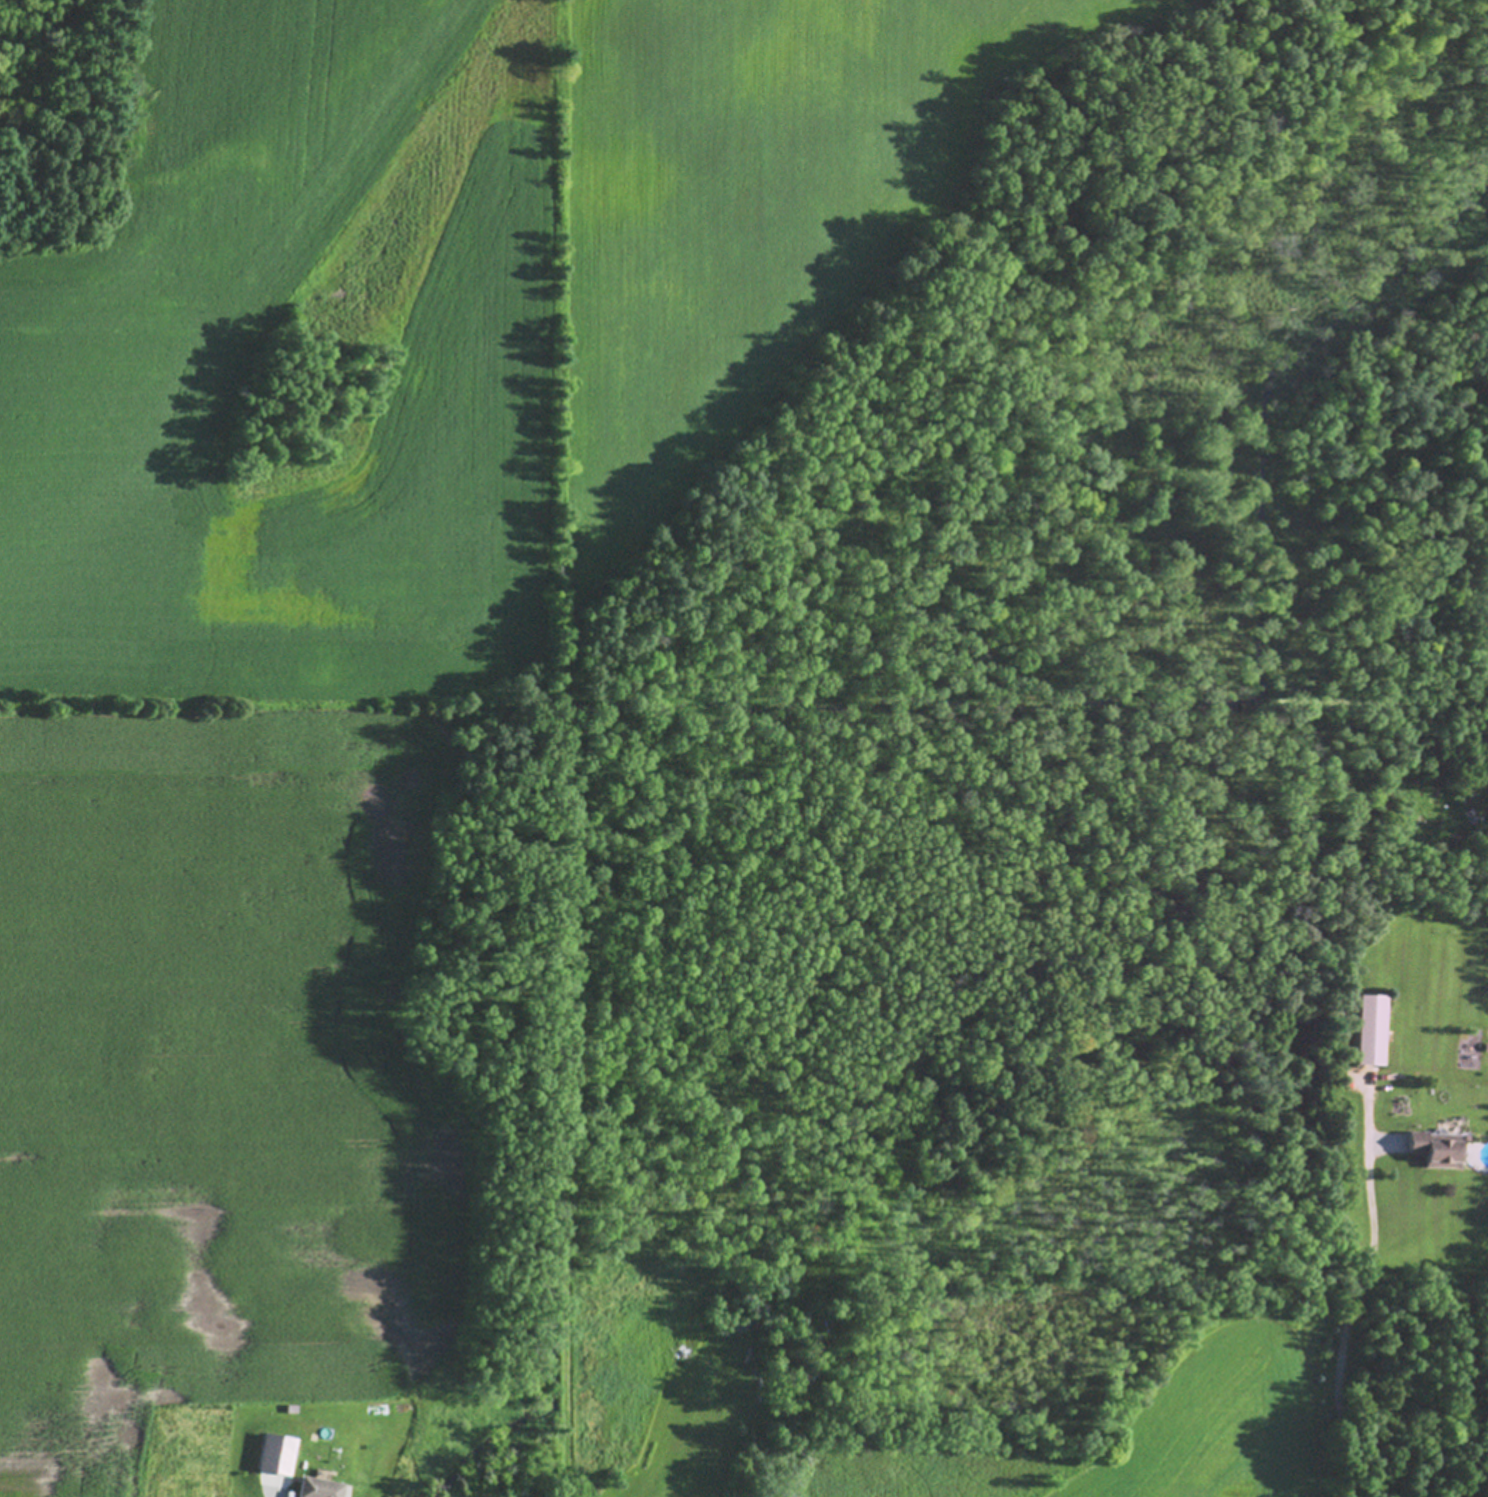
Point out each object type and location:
building: (1373, 1030)
building: (1439, 1150)
road: (1353, 1324)
building: (277, 1455)
building: (273, 1481)
building: (320, 1488)

